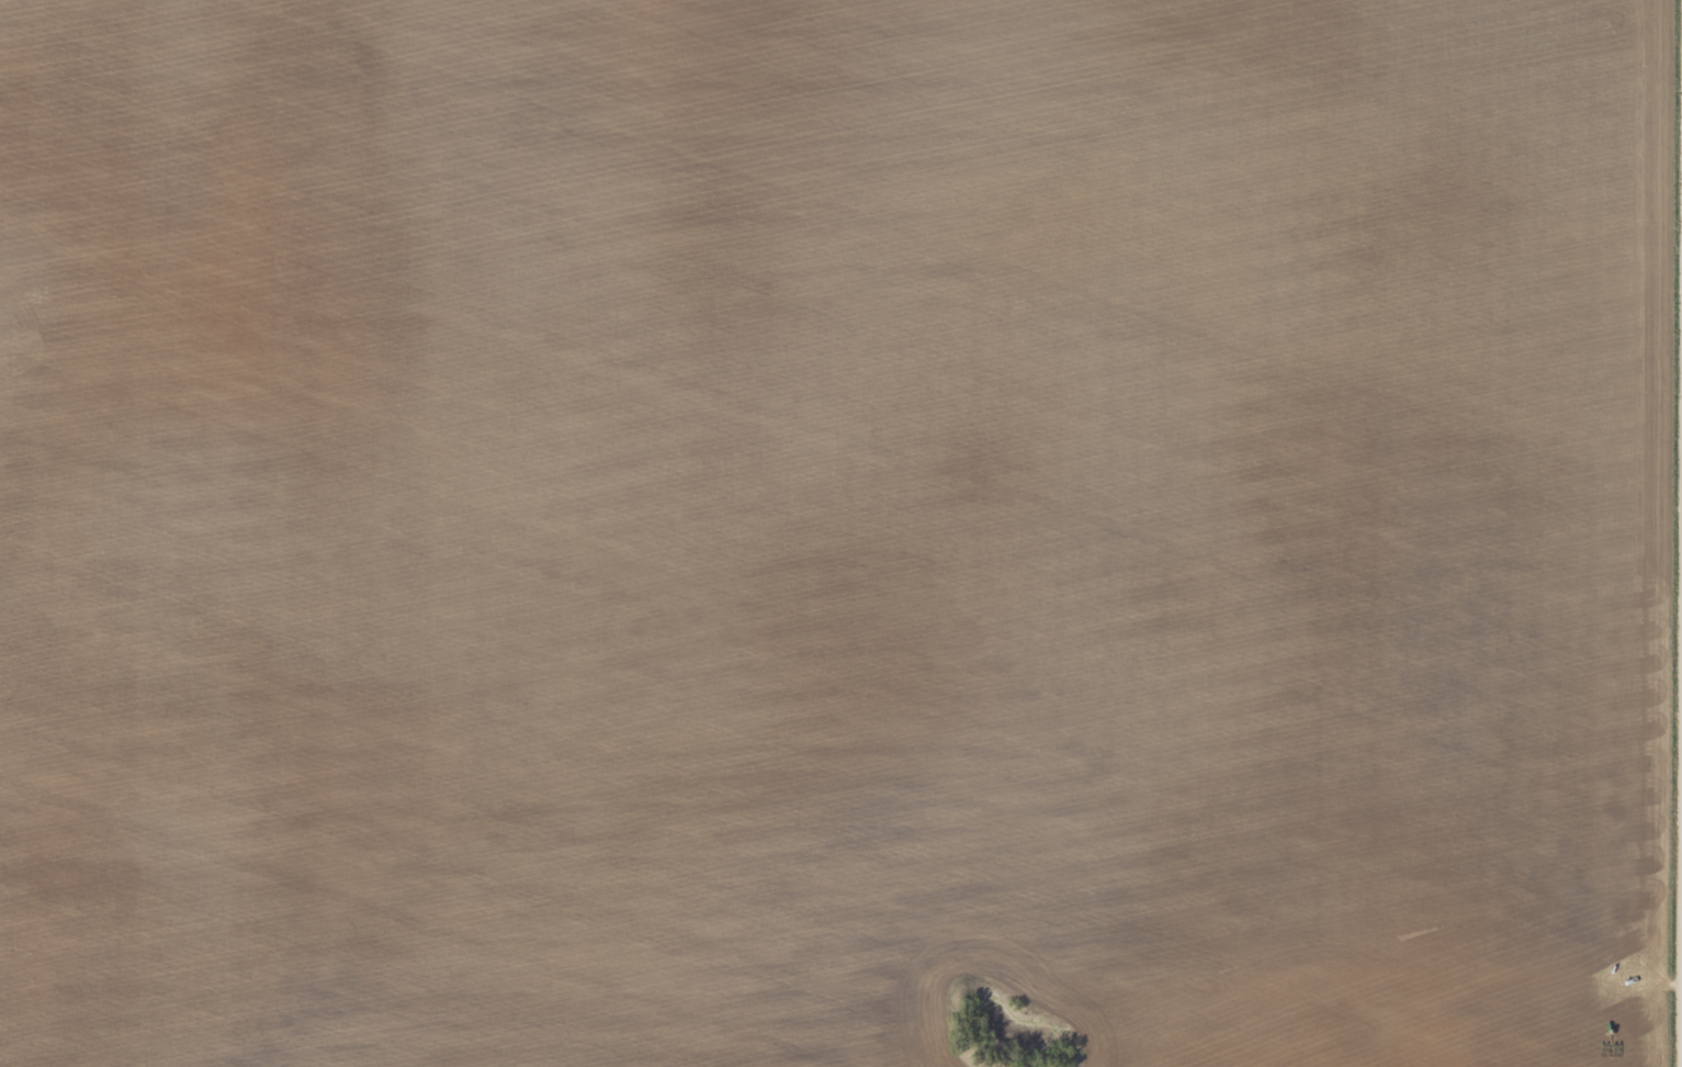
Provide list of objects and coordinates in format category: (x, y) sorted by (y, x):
road: (1656, 532)

